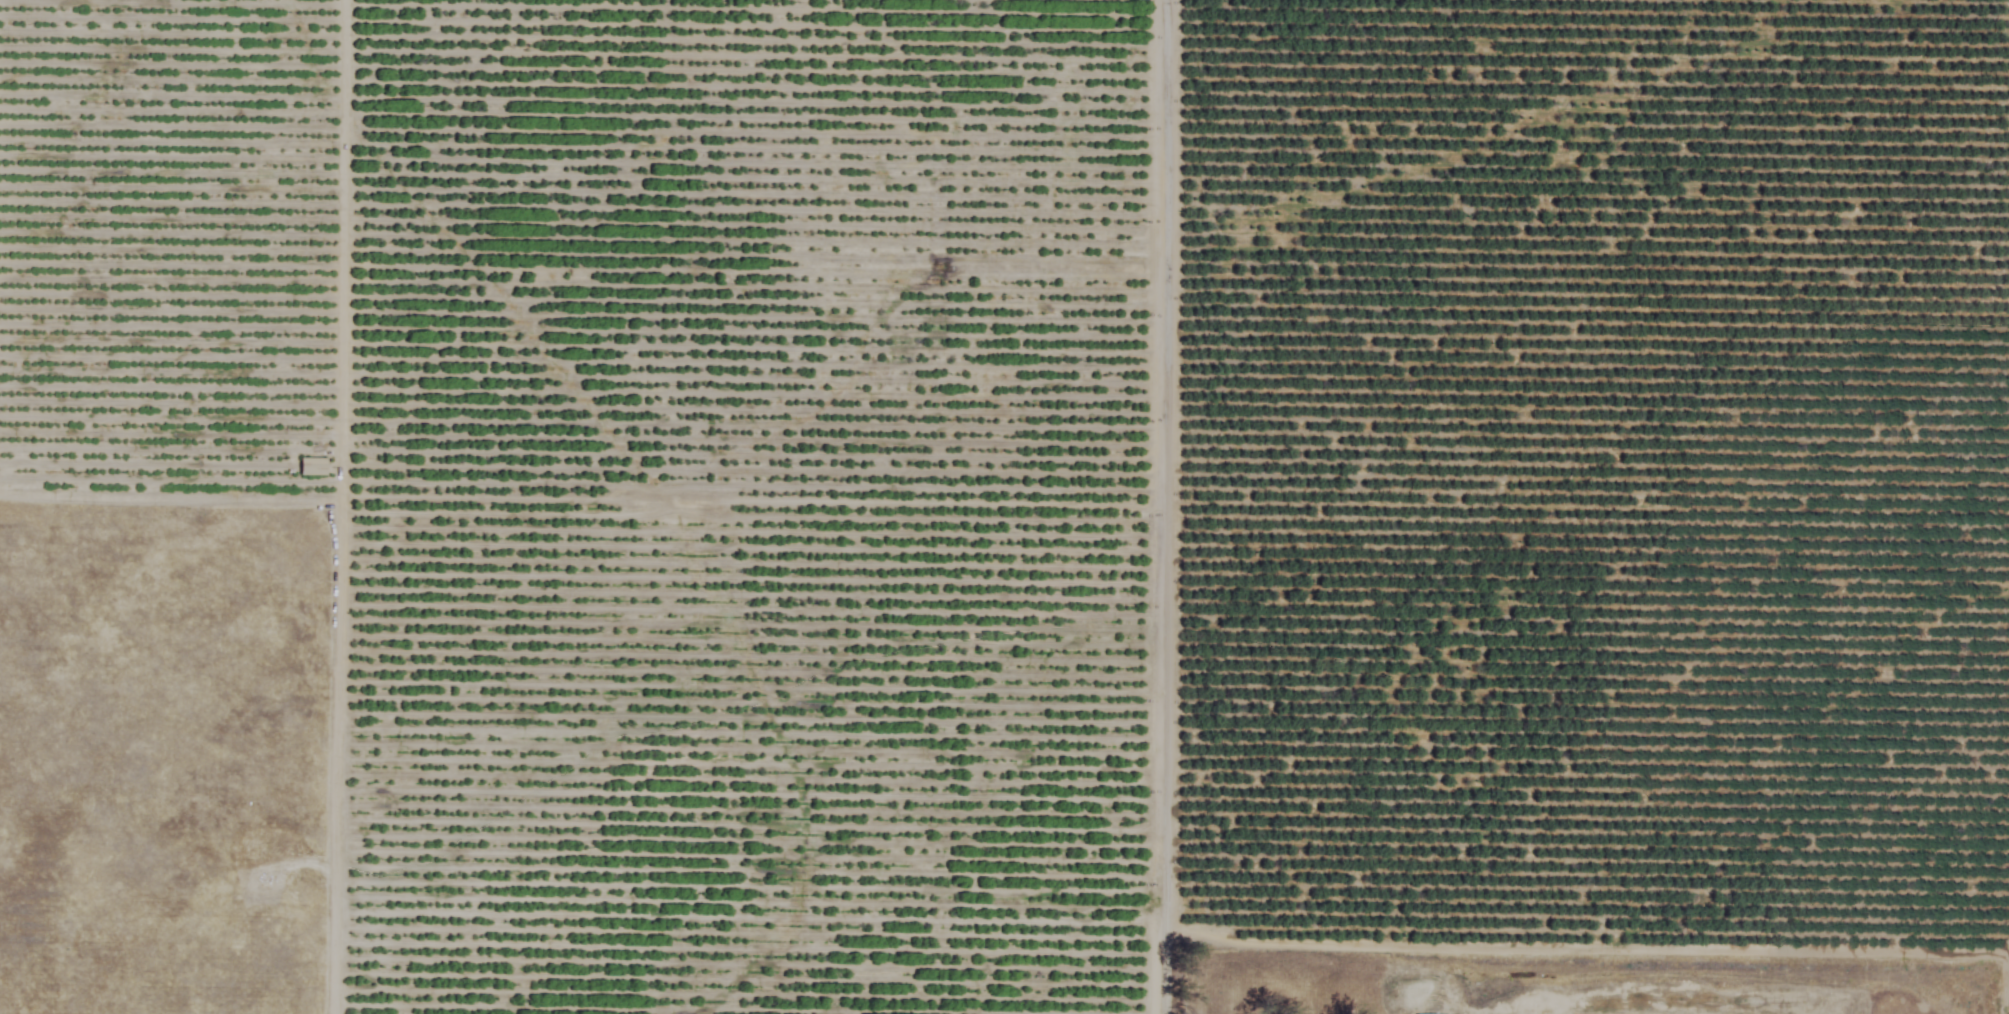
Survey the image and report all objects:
crop: (1070, 474)
road: (1161, 507)

